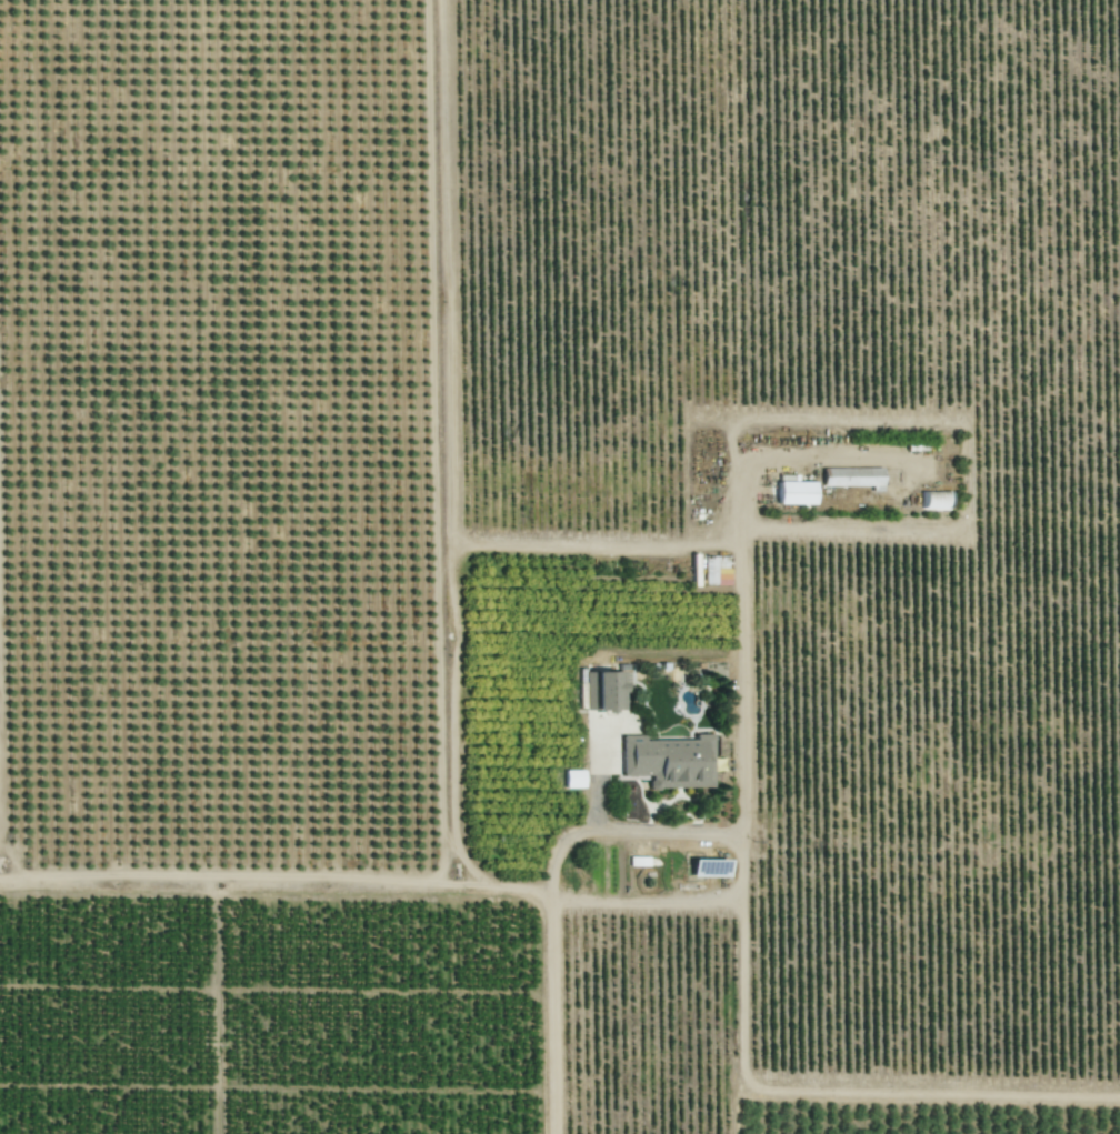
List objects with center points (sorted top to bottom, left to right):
building: (851, 476)
road: (447, 491)
building: (794, 492)
road: (739, 659)
building: (607, 690)
building: (669, 761)
building: (573, 779)
road: (228, 876)
road: (683, 901)
road: (552, 1012)

